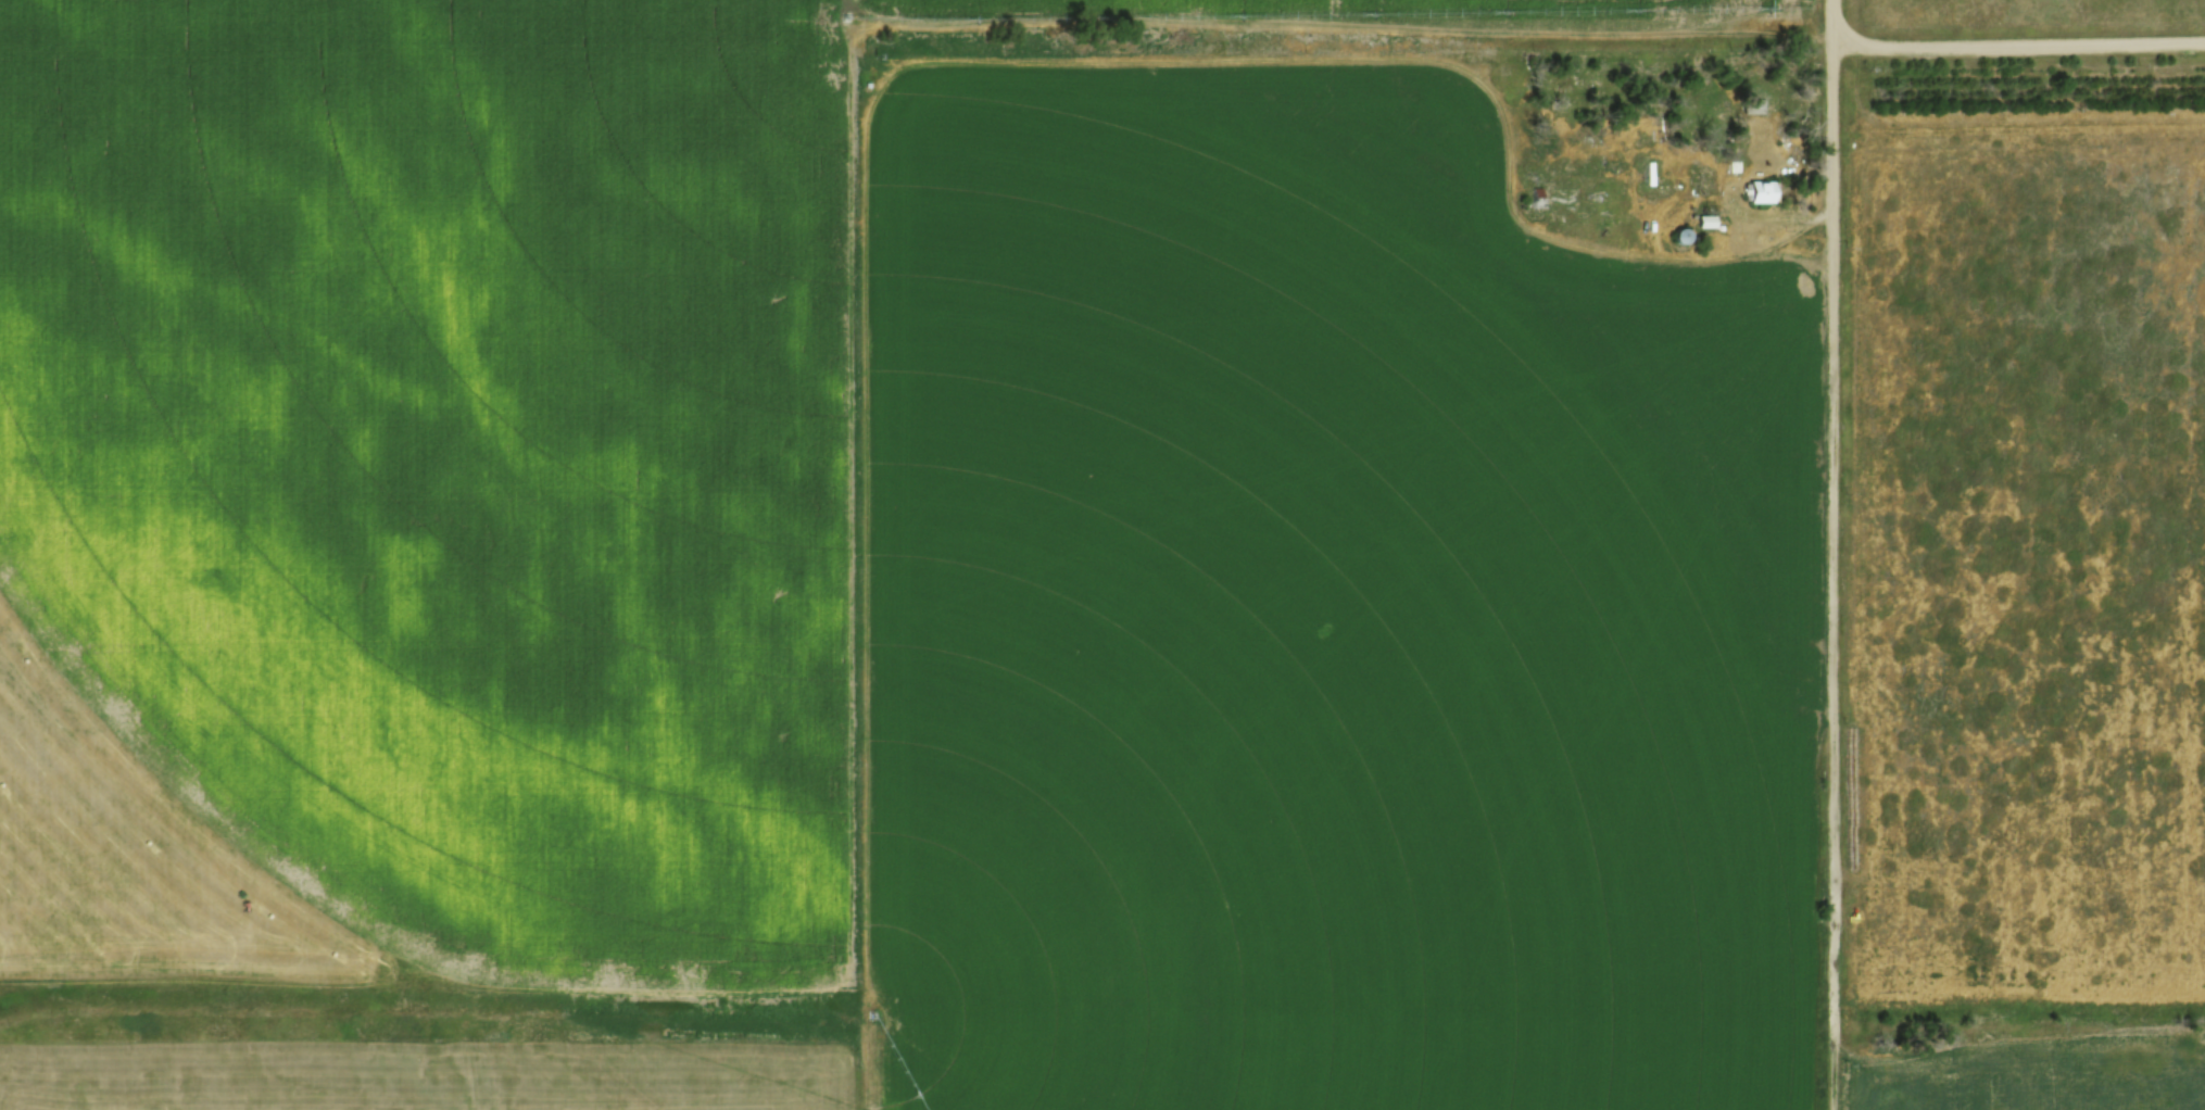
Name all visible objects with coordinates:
road: (2020, 48)
building: (1762, 191)
road: (1765, 214)
building: (1683, 236)
road: (1837, 555)

